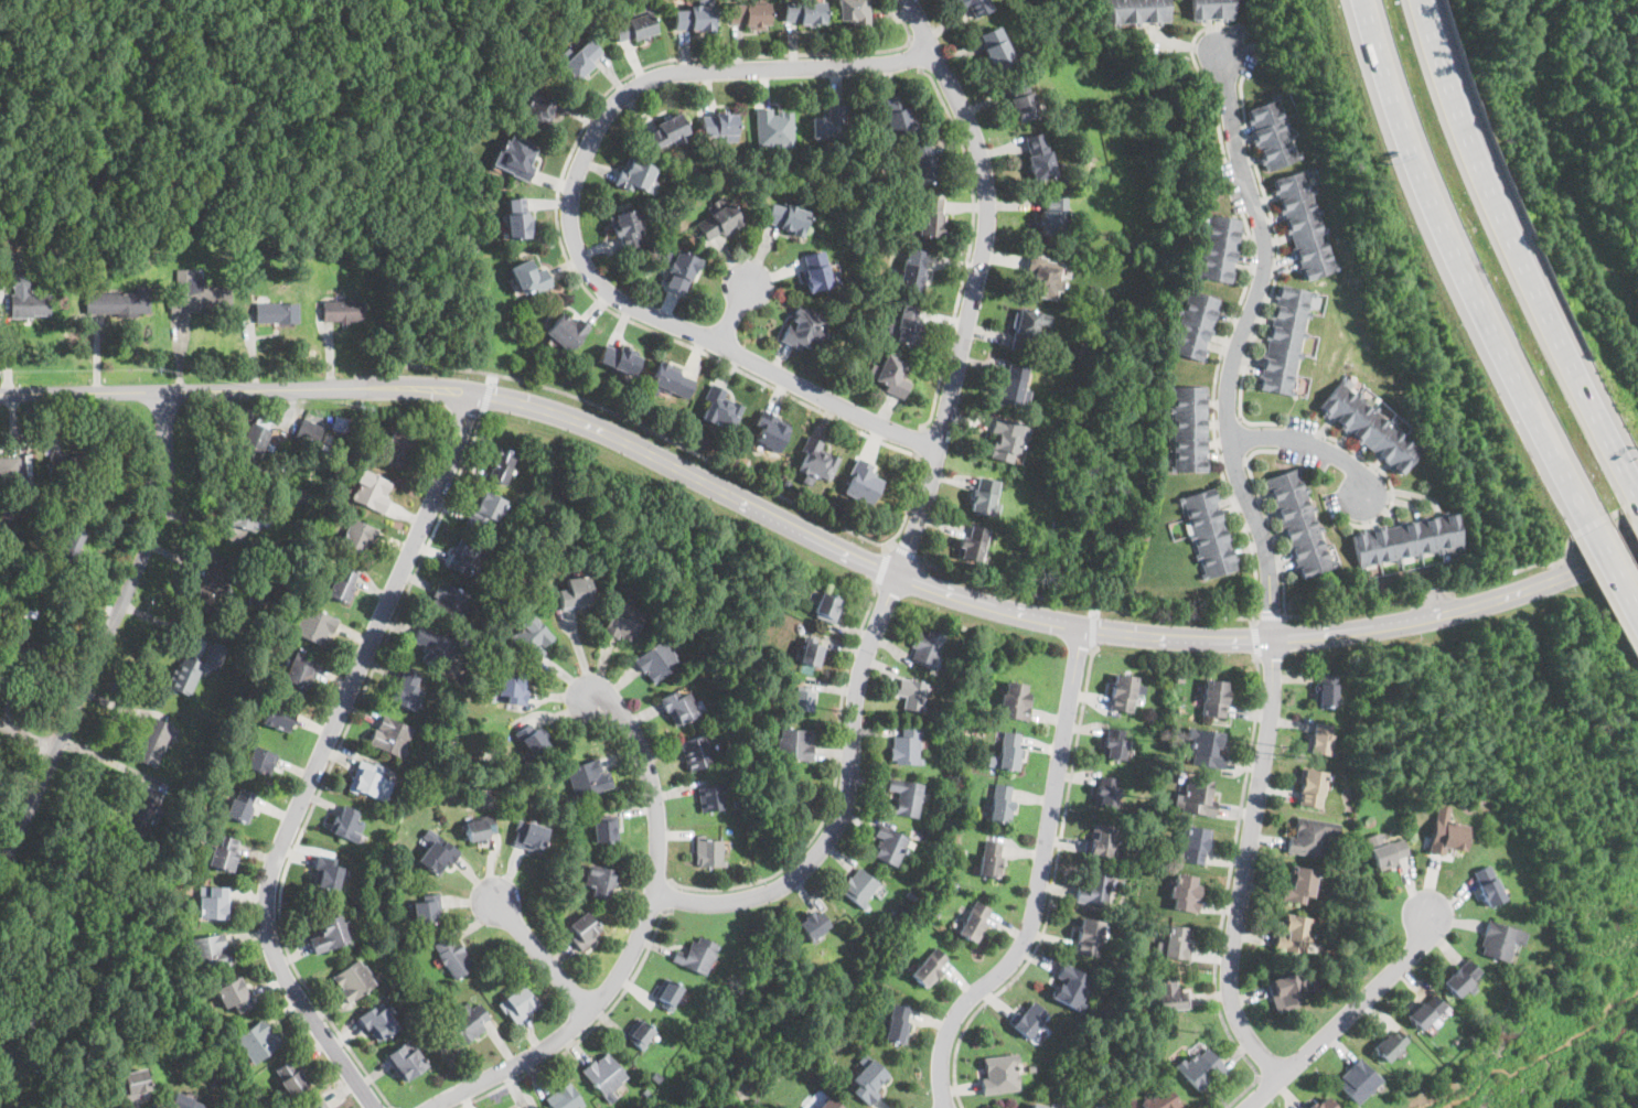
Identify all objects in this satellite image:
building: (976, 7)
building: (1212, 10)
building: (804, 11)
building: (1136, 11)
building: (854, 12)
building: (749, 13)
building: (694, 18)
building: (634, 24)
building: (995, 46)
road: (914, 55)
building: (580, 58)
road: (1203, 77)
building: (1020, 99)
building: (542, 108)
building: (897, 112)
building: (831, 122)
building: (719, 126)
building: (774, 126)
building: (665, 132)
building: (1272, 132)
building: (1038, 154)
building: (516, 155)
building: (922, 161)
building: (636, 175)
building: (1053, 214)
road: (570, 215)
building: (928, 216)
building: (785, 217)
building: (516, 218)
building: (716, 222)
building: (1306, 224)
building: (629, 227)
road: (561, 243)
road: (970, 245)
road: (1517, 247)
building: (1218, 249)
road: (1463, 261)
building: (913, 269)
building: (818, 271)
road: (1277, 271)
building: (675, 272)
building: (527, 277)
building: (1046, 281)
road: (973, 282)
building: (196, 293)
building: (26, 298)
building: (117, 301)
building: (341, 309)
building: (276, 311)
road: (734, 311)
building: (903, 325)
building: (1193, 325)
building: (803, 327)
building: (1027, 327)
building: (566, 331)
road: (3, 336)
road: (1240, 337)
building: (1285, 340)
building: (619, 358)
building: (889, 374)
building: (672, 380)
building: (1014, 384)
building: (720, 408)
road: (1213, 420)
building: (1371, 427)
building: (1188, 429)
road: (652, 430)
building: (308, 431)
building: (769, 432)
building: (1006, 440)
building: (254, 443)
road: (921, 443)
road: (1314, 444)
building: (397, 449)
building: (817, 461)
building: (501, 464)
building: (9, 470)
building: (62, 470)
road: (1388, 478)
building: (861, 482)
road: (1637, 485)
building: (371, 491)
building: (984, 495)
building: (485, 507)
building: (246, 514)
road: (1271, 520)
building: (1298, 523)
building: (1210, 533)
road: (820, 534)
building: (356, 538)
building: (1406, 539)
building: (69, 540)
building: (972, 544)
road: (907, 552)
building: (464, 556)
road: (1545, 564)
road: (1610, 567)
road: (884, 568)
building: (211, 582)
building: (341, 584)
building: (575, 591)
road: (1431, 595)
building: (449, 599)
road: (1085, 605)
building: (827, 606)
road: (1348, 610)
road: (1093, 611)
road: (1271, 617)
building: (623, 620)
building: (315, 626)
road: (1092, 631)
building: (532, 635)
road: (105, 637)
road: (1255, 643)
building: (431, 645)
building: (925, 648)
building: (811, 653)
building: (20, 658)
building: (657, 659)
building: (191, 671)
building: (299, 671)
building: (507, 686)
building: (405, 688)
building: (1325, 688)
building: (1123, 691)
building: (911, 693)
building: (1214, 698)
building: (803, 699)
building: (1016, 700)
building: (678, 704)
building: (278, 716)
building: (390, 734)
road: (28, 736)
building: (1320, 736)
building: (531, 738)
building: (153, 741)
building: (1115, 742)
building: (795, 743)
building: (904, 746)
building: (1208, 747)
building: (698, 751)
building: (1007, 752)
road: (321, 753)
building: (259, 759)
road: (331, 765)
building: (366, 777)
building: (588, 777)
building: (1312, 786)
road: (834, 789)
building: (1106, 792)
building: (710, 796)
building: (1198, 796)
building: (906, 797)
road: (846, 800)
building: (1000, 803)
building: (238, 804)
building: (141, 813)
building: (346, 824)
building: (479, 827)
building: (603, 829)
building: (1448, 833)
building: (528, 835)
building: (1310, 835)
building: (1372, 839)
building: (1102, 840)
building: (1195, 843)
building: (888, 845)
building: (709, 850)
building: (1387, 851)
building: (223, 853)
building: (437, 854)
building: (989, 859)
road: (1245, 863)
building: (326, 874)
building: (600, 881)
road: (1039, 881)
building: (1299, 884)
building: (1488, 884)
building: (859, 886)
building: (1094, 889)
building: (1184, 891)
road: (1052, 893)
road: (1227, 894)
road: (670, 896)
building: (211, 901)
building: (426, 908)
building: (974, 919)
building: (813, 924)
building: (582, 929)
building: (1295, 932)
building: (329, 934)
building: (1089, 936)
road: (635, 940)
building: (1175, 940)
building: (1500, 940)
building: (210, 950)
building: (697, 954)
building: (452, 955)
road: (545, 957)
building: (930, 966)
building: (1460, 977)
building: (353, 980)
building: (1072, 987)
building: (1291, 989)
building: (666, 992)
building: (1170, 993)
building: (233, 994)
building: (517, 1003)
building: (1424, 1011)
road: (1345, 1015)
building: (1027, 1018)
building: (378, 1021)
building: (469, 1021)
building: (897, 1023)
building: (19, 1029)
road: (590, 1030)
building: (639, 1031)
building: (257, 1039)
building: (1389, 1045)
building: (405, 1058)
building: (1202, 1068)
building: (604, 1073)
building: (999, 1073)
building: (290, 1078)
building: (867, 1079)
building: (130, 1082)
building: (1358, 1082)
building: (563, 1096)
building: (1163, 1099)
building: (182, 1100)
building: (1321, 1102)
building: (827, 1104)
building: (314, 1105)
building: (95, 1106)
building: (527, 1106)
building: (1038, 1106)
building: (513, 1107)

